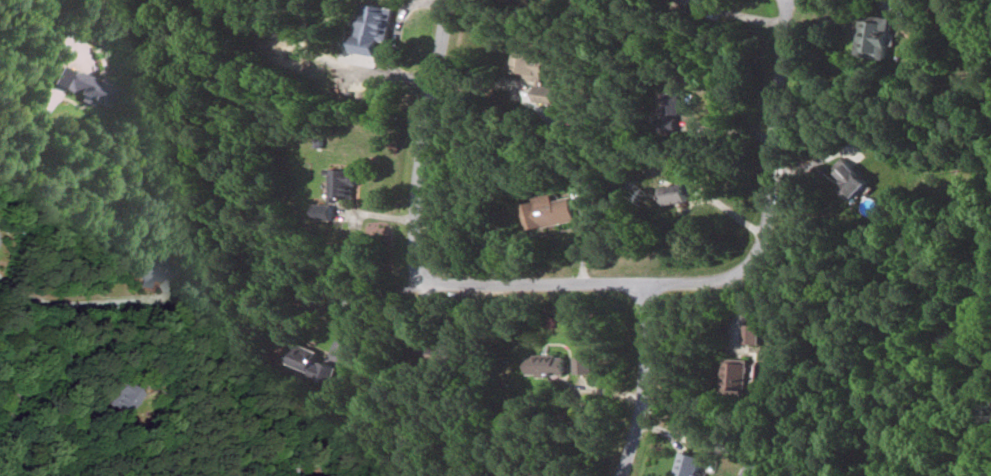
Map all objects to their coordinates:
road: (883, 2)
building: (373, 29)
road: (396, 39)
building: (871, 41)
building: (535, 74)
building: (84, 84)
building: (683, 103)
road: (727, 132)
road: (418, 140)
road: (26, 152)
building: (856, 182)
building: (344, 184)
building: (679, 194)
building: (551, 212)
road: (713, 277)
road: (344, 301)
road: (69, 302)
building: (753, 334)
road: (66, 357)
building: (309, 364)
building: (584, 365)
building: (547, 366)
building: (737, 376)
road: (641, 382)
building: (687, 465)

